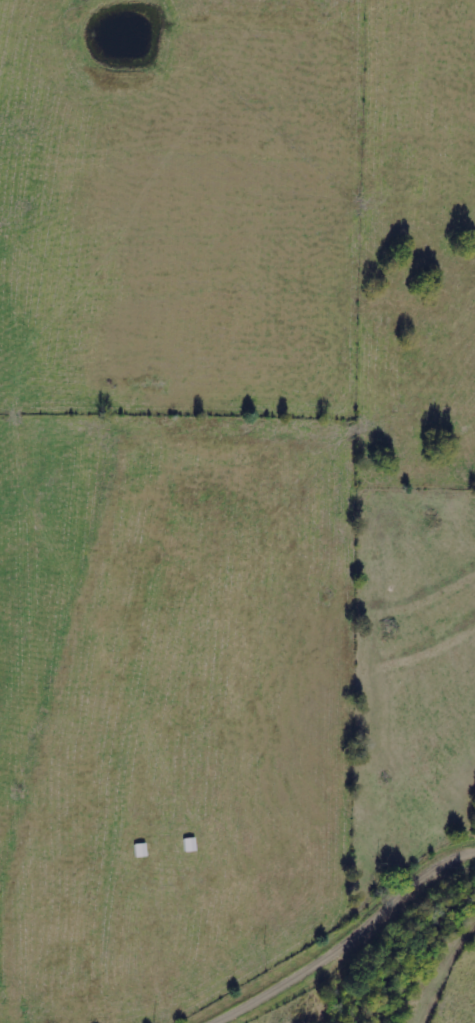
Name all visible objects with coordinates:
road: (342, 939)

